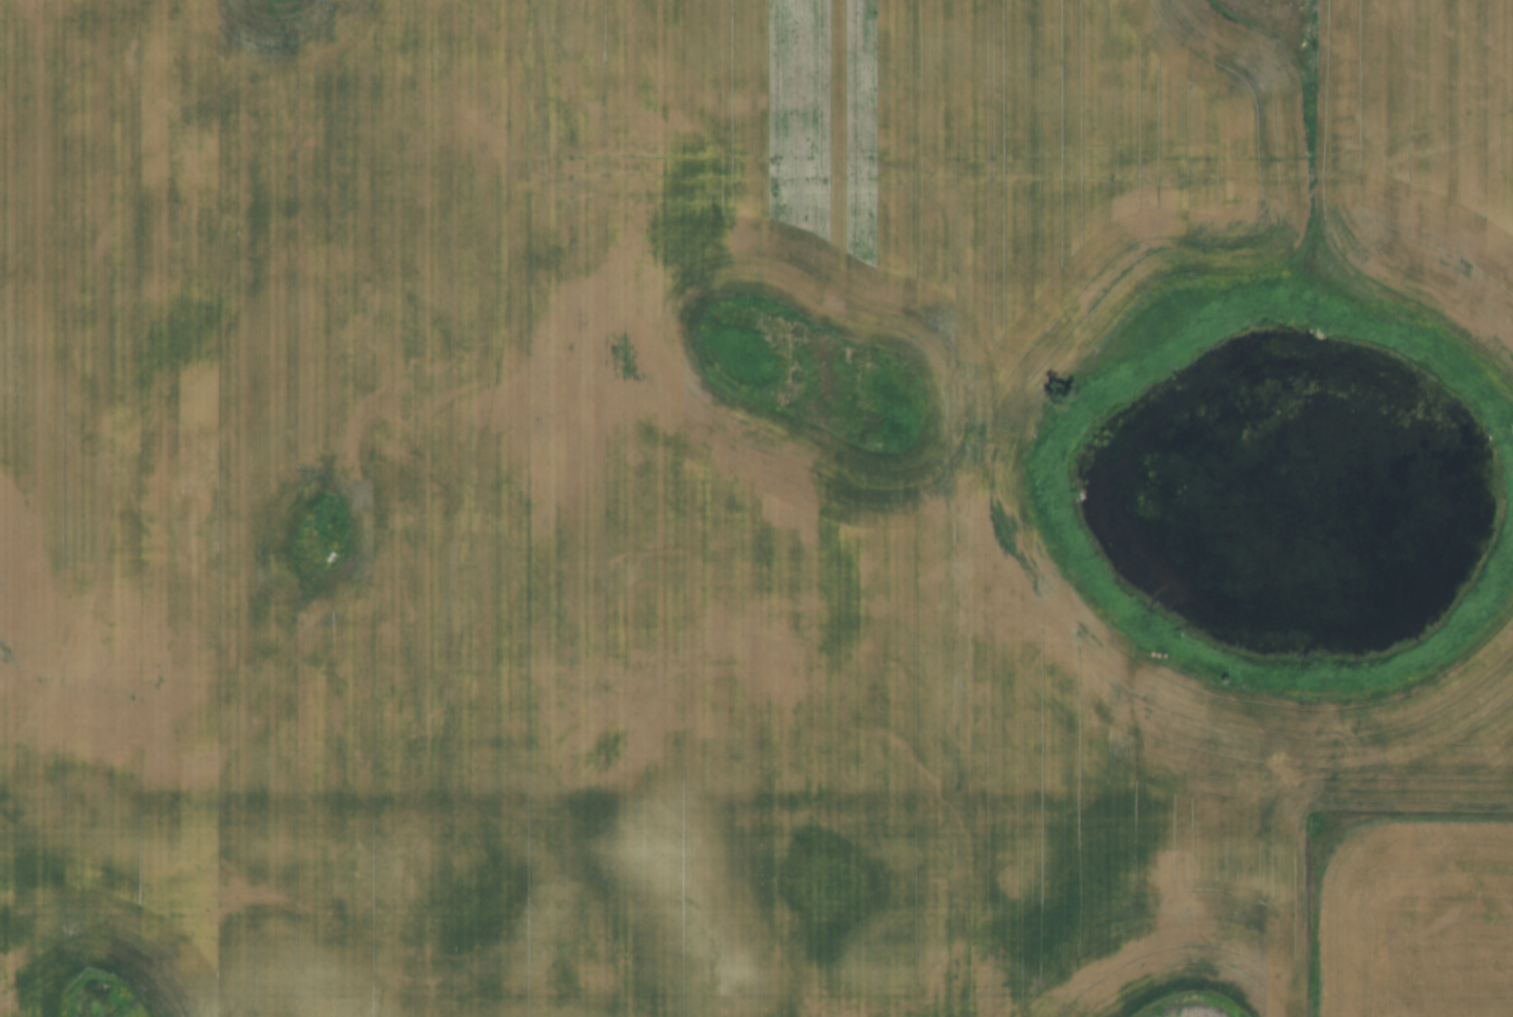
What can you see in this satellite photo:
road: (1331, 837)

